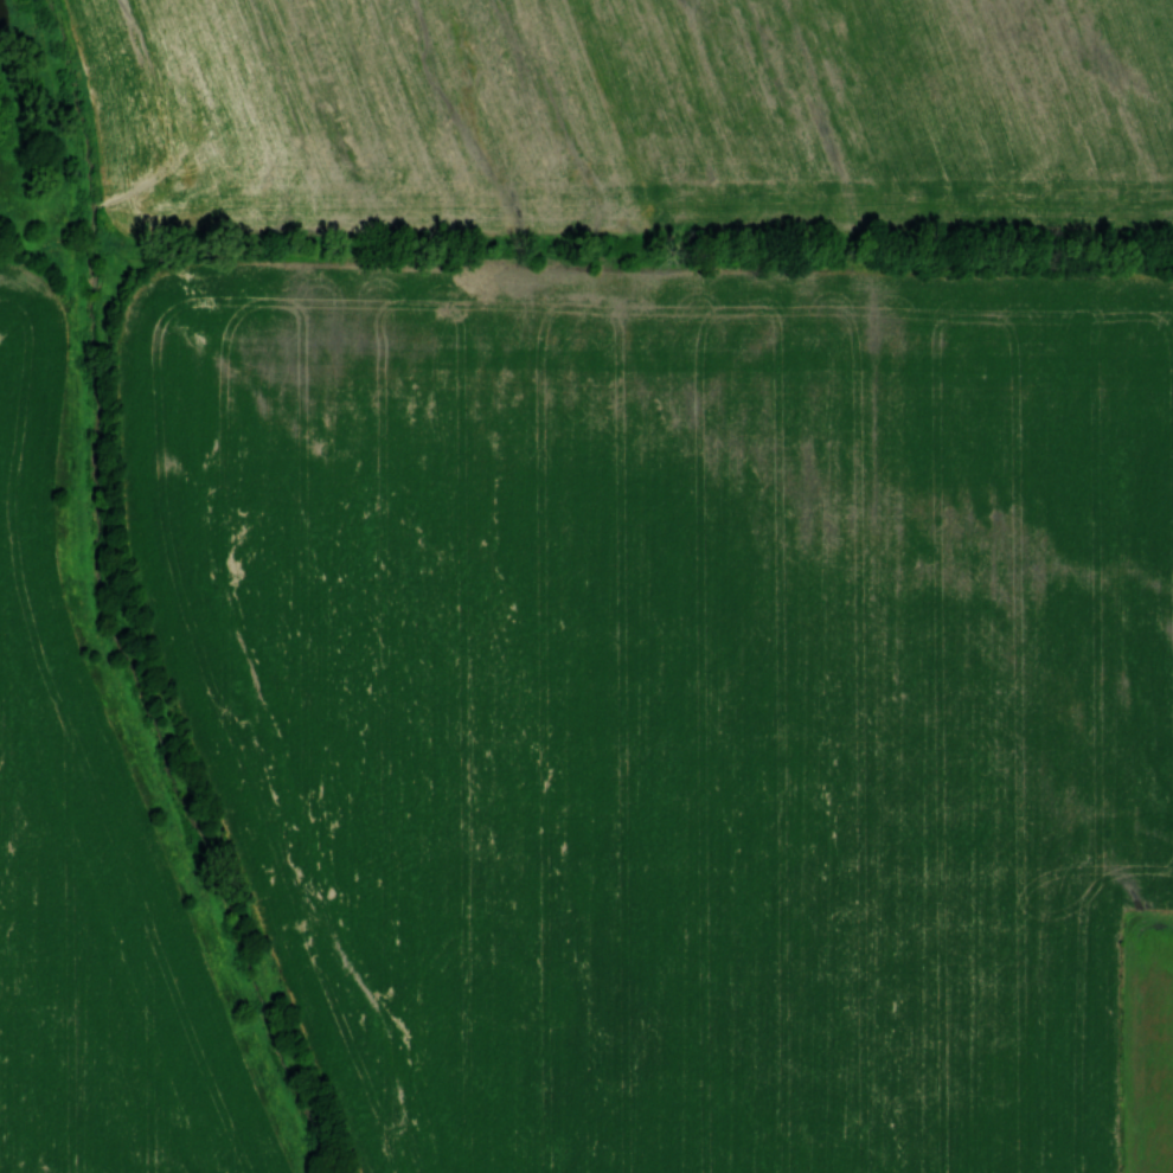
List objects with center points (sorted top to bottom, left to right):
park: (1104, 58)

